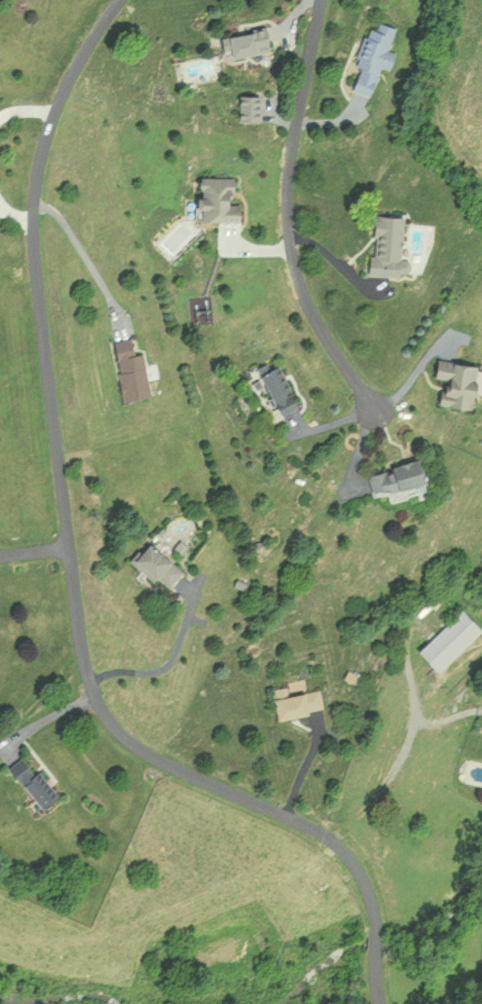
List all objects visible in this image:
building: (249, 42)
building: (374, 57)
building: (249, 106)
road: (27, 109)
building: (216, 199)
road: (289, 212)
road: (16, 214)
building: (387, 245)
road: (83, 253)
building: (131, 370)
building: (454, 381)
building: (278, 390)
building: (393, 476)
road: (69, 533)
road: (35, 550)
building: (155, 564)
building: (447, 639)
road: (164, 665)
building: (298, 702)
road: (49, 714)
road: (450, 715)
building: (34, 784)
road: (378, 958)
road: (380, 993)

